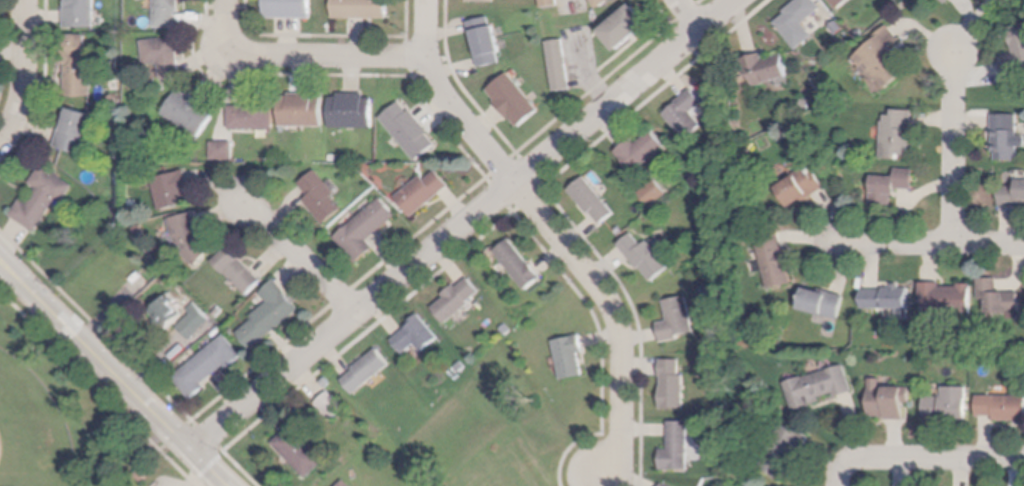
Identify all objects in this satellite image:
building: (481, 1)
building: (947, 1)
building: (604, 2)
building: (549, 3)
building: (839, 3)
building: (288, 9)
building: (360, 9)
building: (80, 13)
building: (166, 13)
road: (689, 13)
building: (799, 21)
road: (227, 22)
building: (626, 27)
building: (837, 27)
building: (485, 41)
building: (1015, 52)
road: (330, 55)
building: (163, 56)
building: (881, 58)
building: (558, 65)
building: (77, 66)
building: (765, 68)
road: (25, 74)
building: (115, 100)
road: (446, 100)
building: (514, 100)
building: (301, 110)
building: (351, 111)
building: (189, 112)
building: (686, 114)
building: (251, 116)
building: (409, 130)
building: (75, 131)
building: (897, 133)
building: (1003, 137)
building: (222, 150)
building: (641, 151)
road: (954, 153)
building: (119, 179)
building: (801, 185)
building: (890, 185)
building: (173, 190)
building: (422, 192)
building: (654, 192)
building: (1012, 193)
building: (321, 197)
building: (42, 198)
building: (592, 200)
road: (462, 224)
building: (366, 229)
building: (191, 237)
road: (934, 245)
road: (301, 256)
building: (645, 256)
building: (772, 258)
building: (519, 264)
road: (12, 266)
building: (239, 271)
road: (8, 278)
building: (997, 296)
building: (945, 298)
building: (887, 299)
building: (457, 300)
building: (822, 301)
building: (168, 311)
building: (218, 311)
road: (615, 313)
building: (270, 315)
building: (678, 320)
building: (193, 328)
building: (416, 335)
building: (570, 356)
road: (128, 358)
building: (208, 365)
building: (367, 370)
building: (326, 383)
road: (124, 384)
building: (673, 384)
building: (818, 386)
road: (98, 388)
building: (888, 399)
building: (948, 403)
building: (331, 405)
building: (1001, 406)
park: (63, 415)
park: (31, 430)
building: (679, 447)
road: (147, 449)
building: (783, 449)
building: (300, 451)
road: (924, 460)
building: (141, 476)
building: (346, 484)
building: (666, 485)

